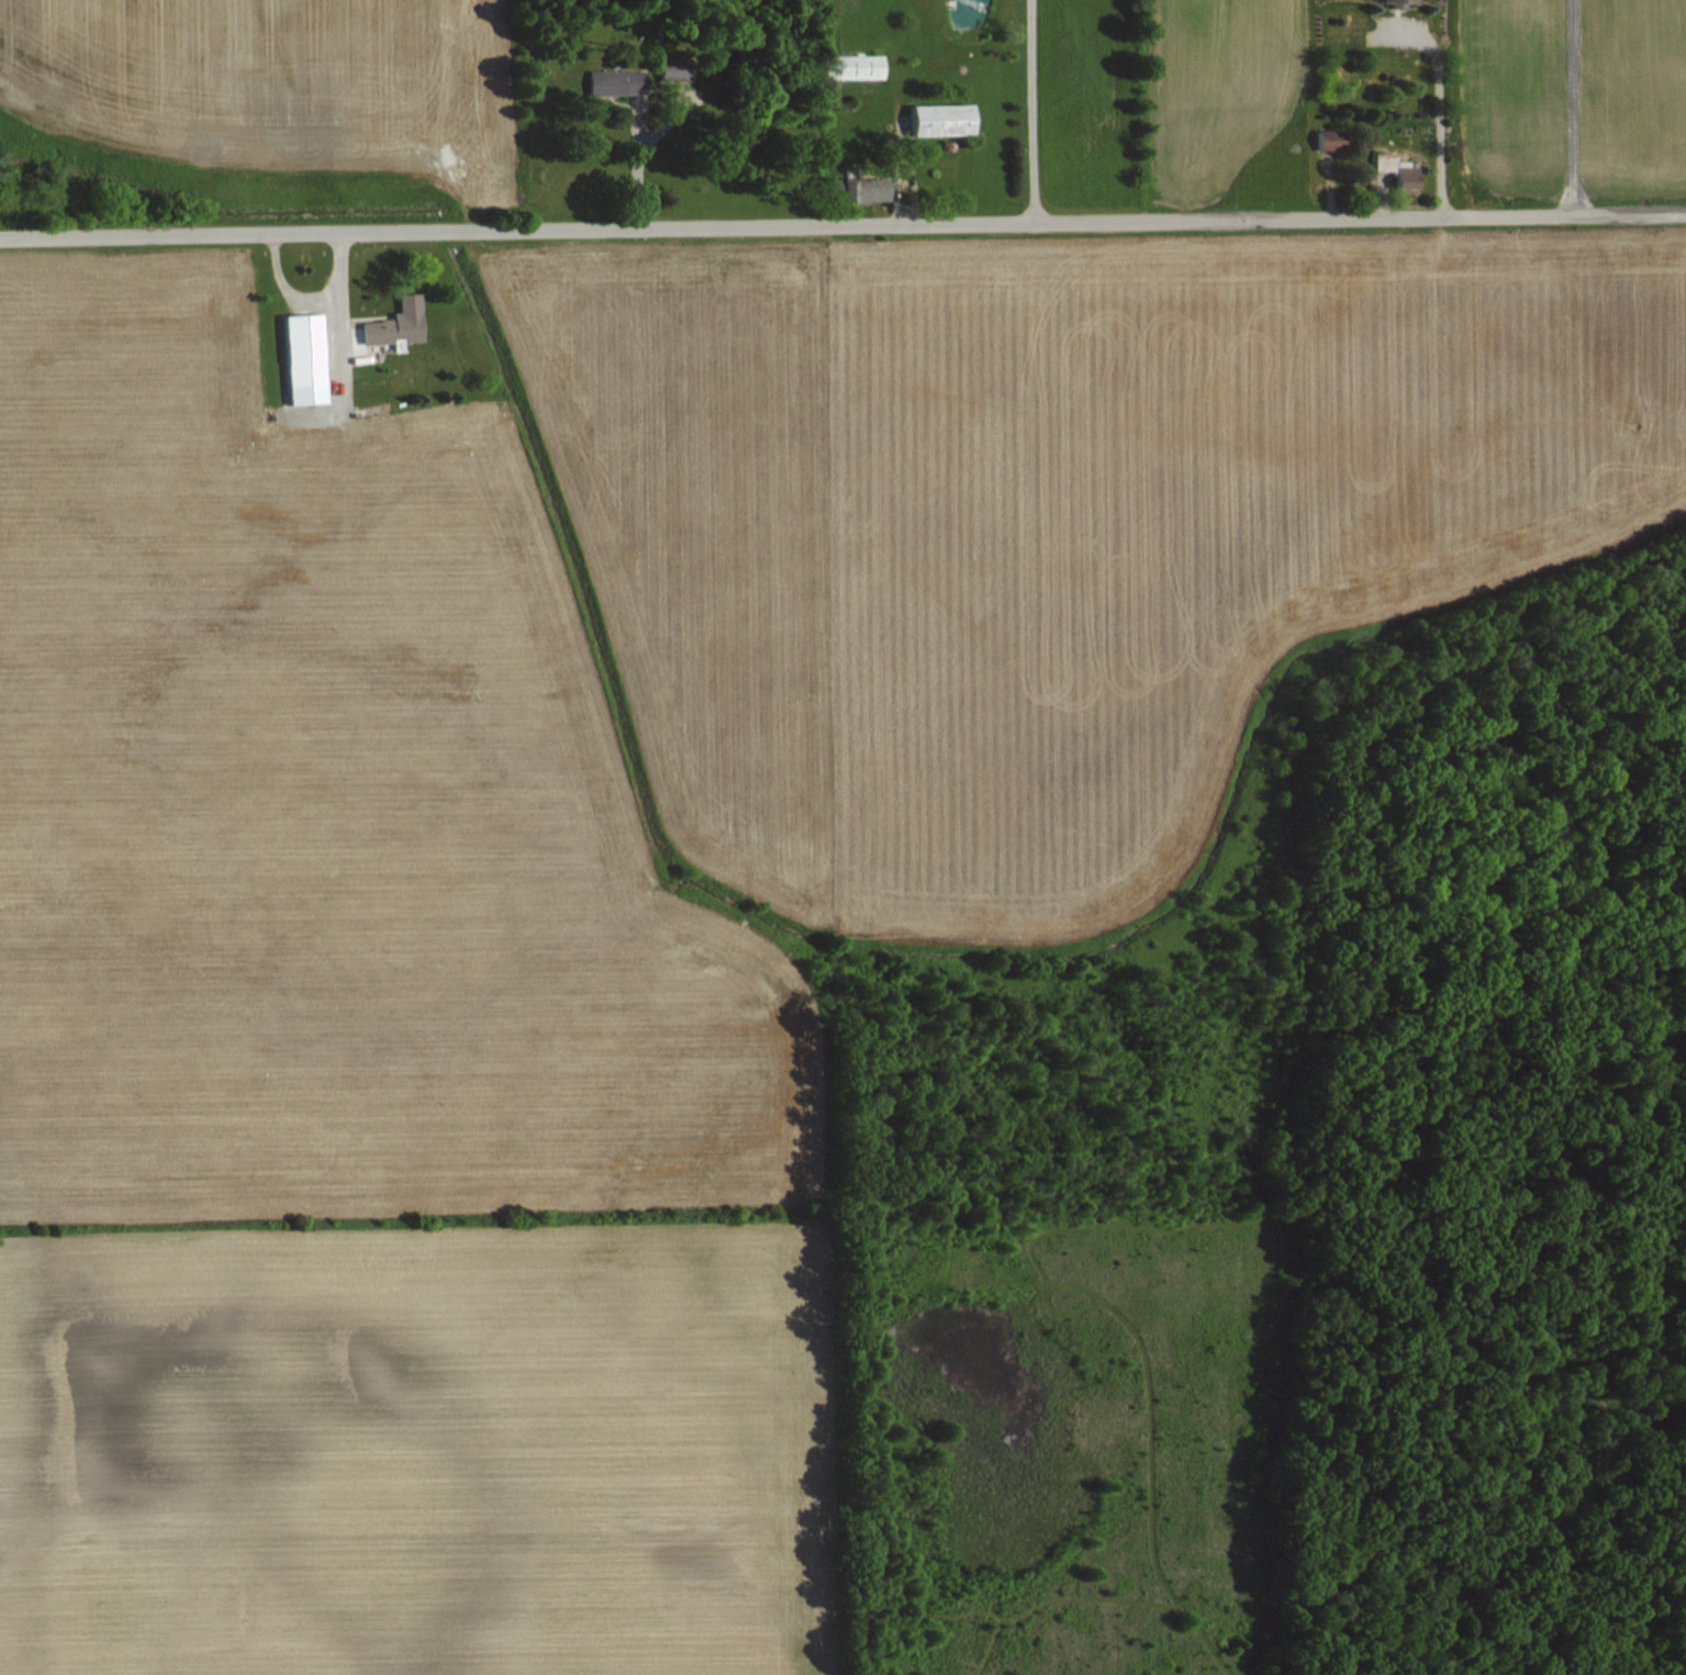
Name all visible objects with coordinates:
building: (1402, 2)
building: (862, 66)
building: (678, 68)
building: (617, 81)
road: (1436, 107)
road: (1031, 111)
building: (944, 119)
building: (1332, 138)
road: (635, 166)
building: (1409, 181)
building: (868, 188)
road: (842, 223)
building: (399, 323)
building: (305, 348)

